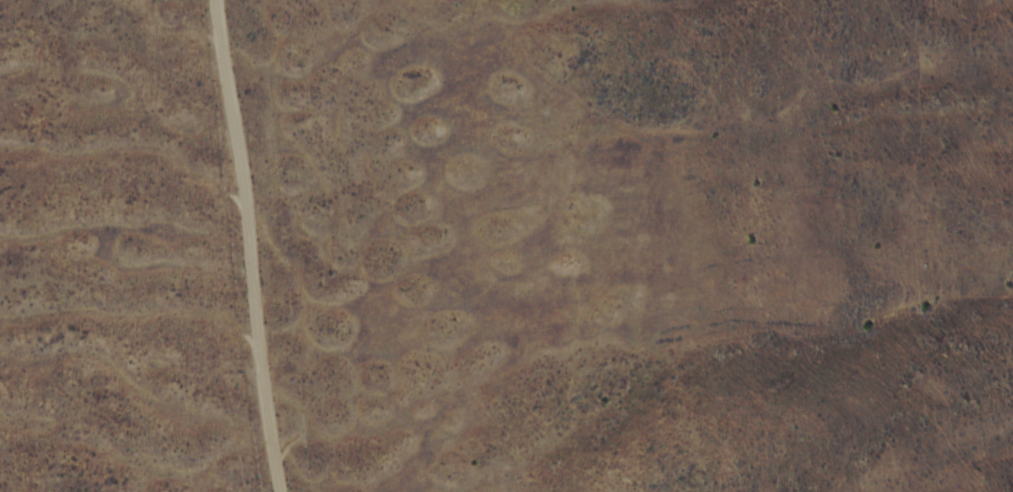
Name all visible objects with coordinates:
road: (251, 245)

